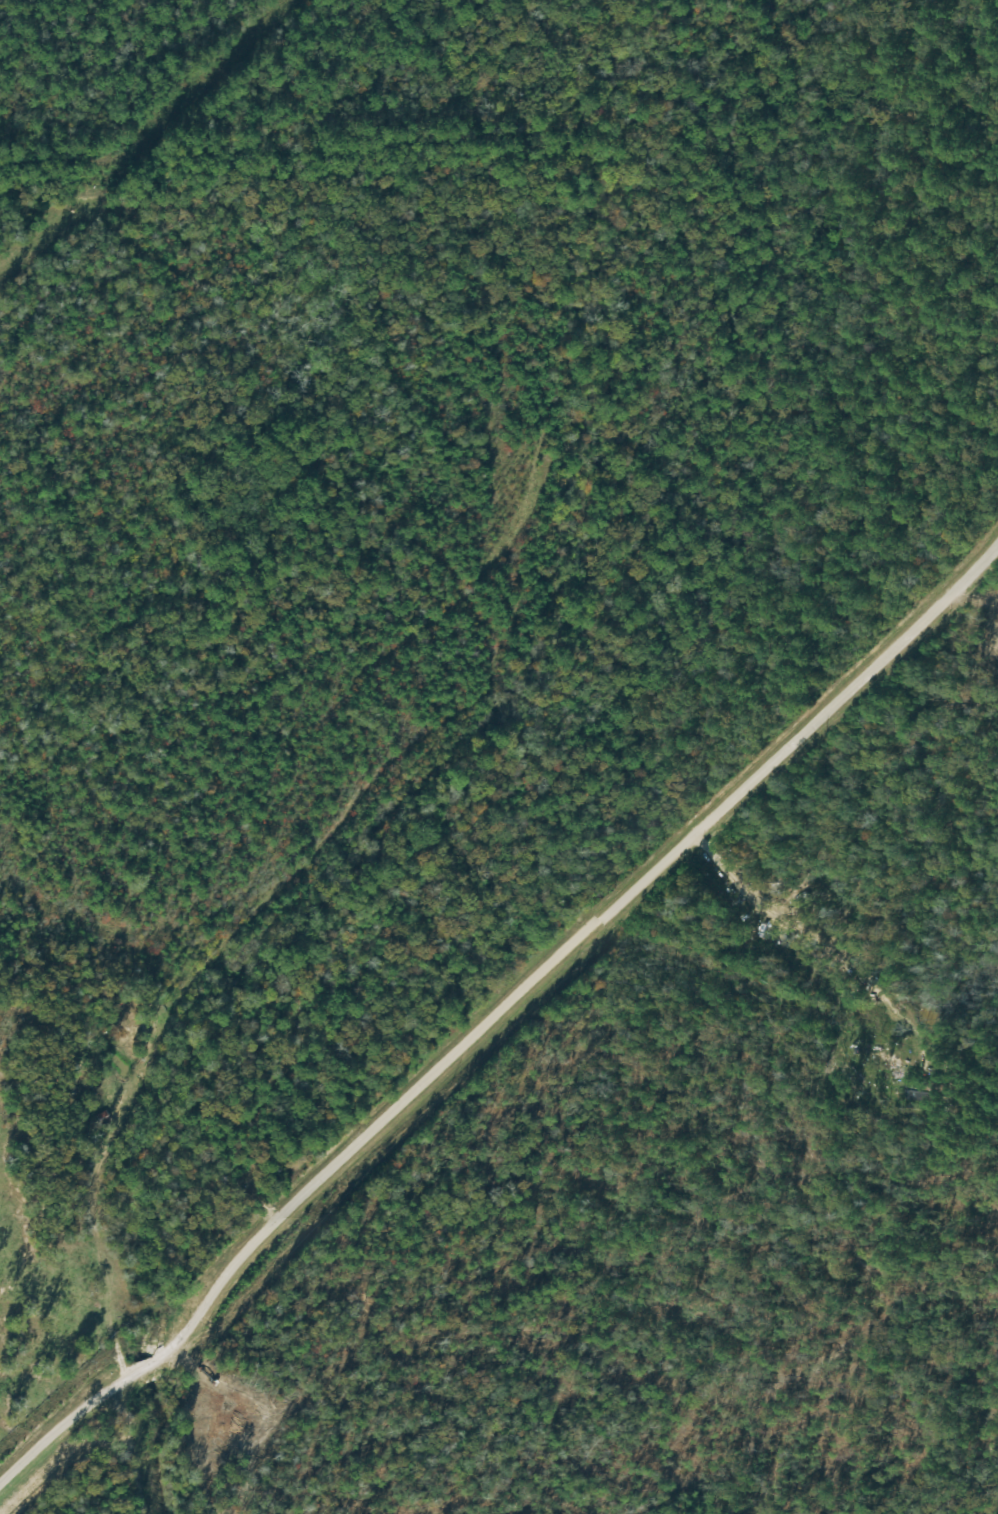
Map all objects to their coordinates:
road: (498, 1015)

